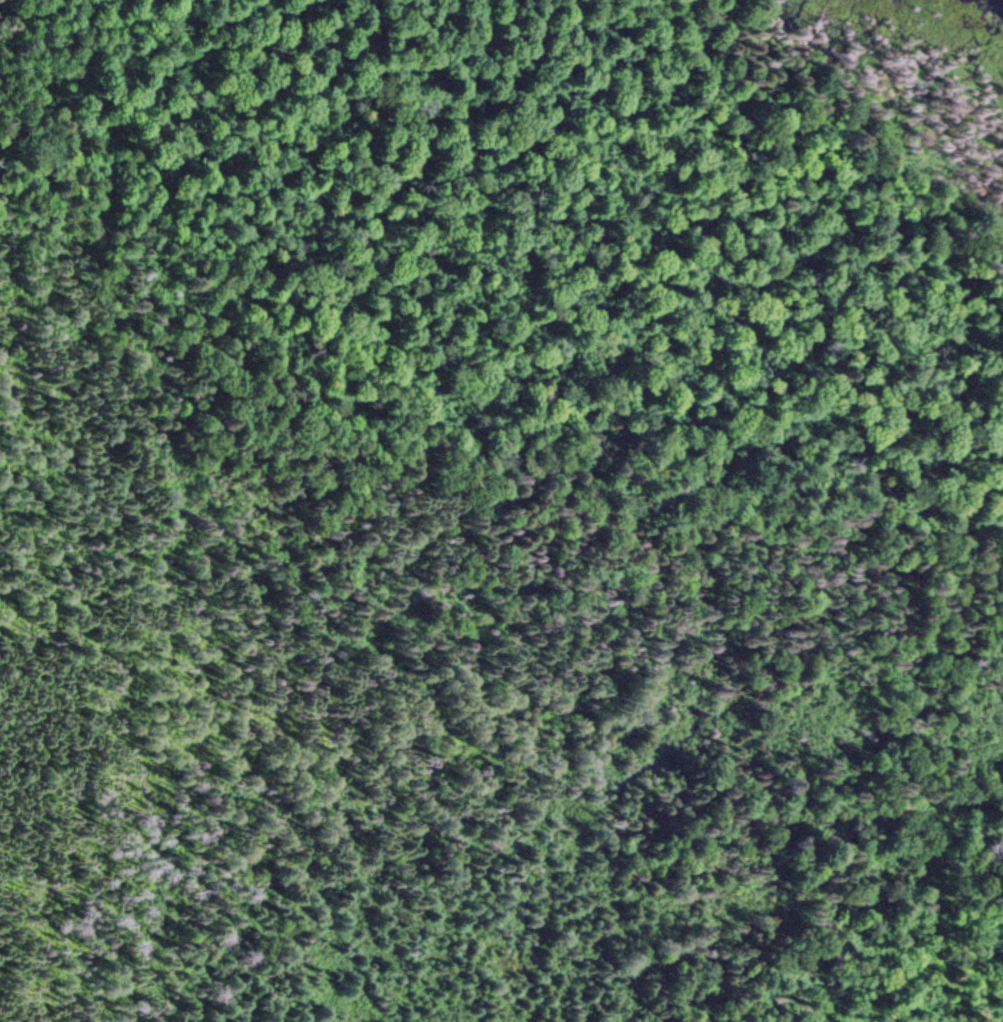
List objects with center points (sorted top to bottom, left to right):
river: (997, 3)

